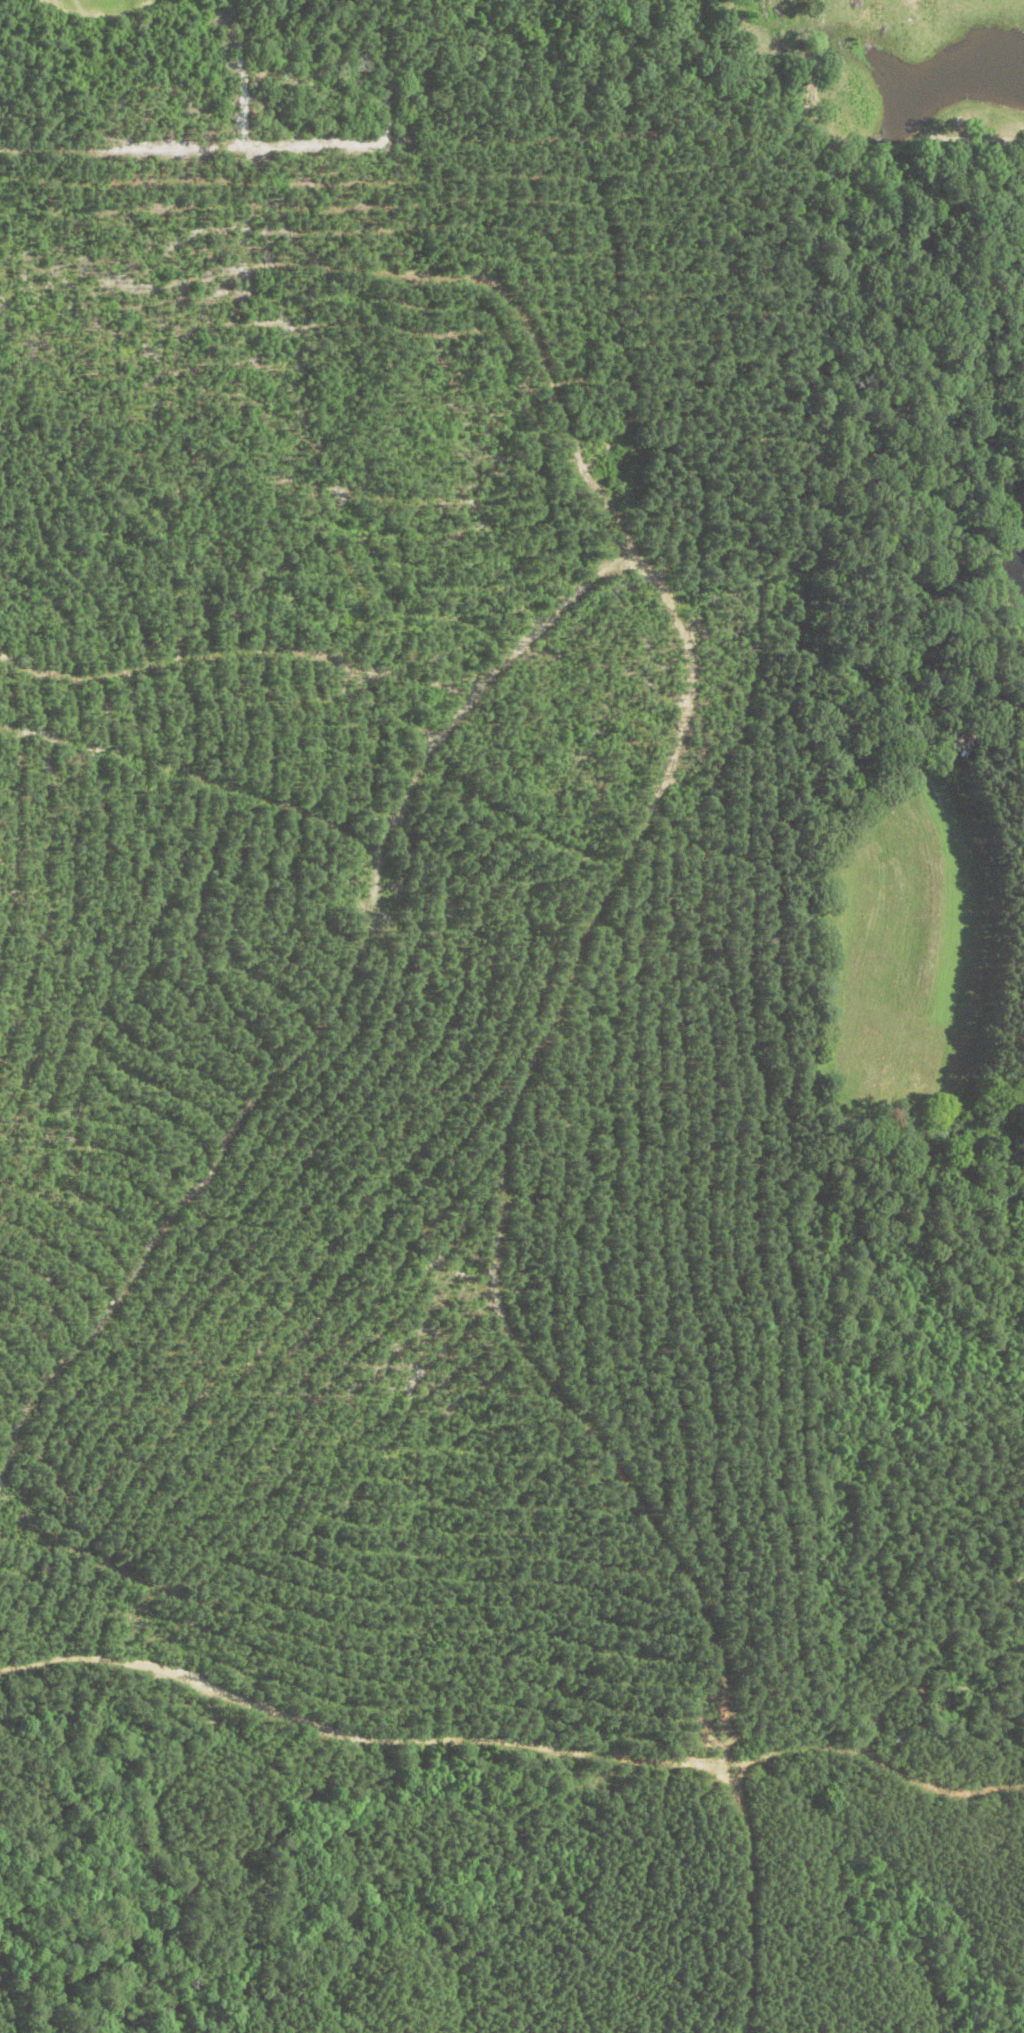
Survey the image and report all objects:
road: (400, 876)
road: (505, 1753)

